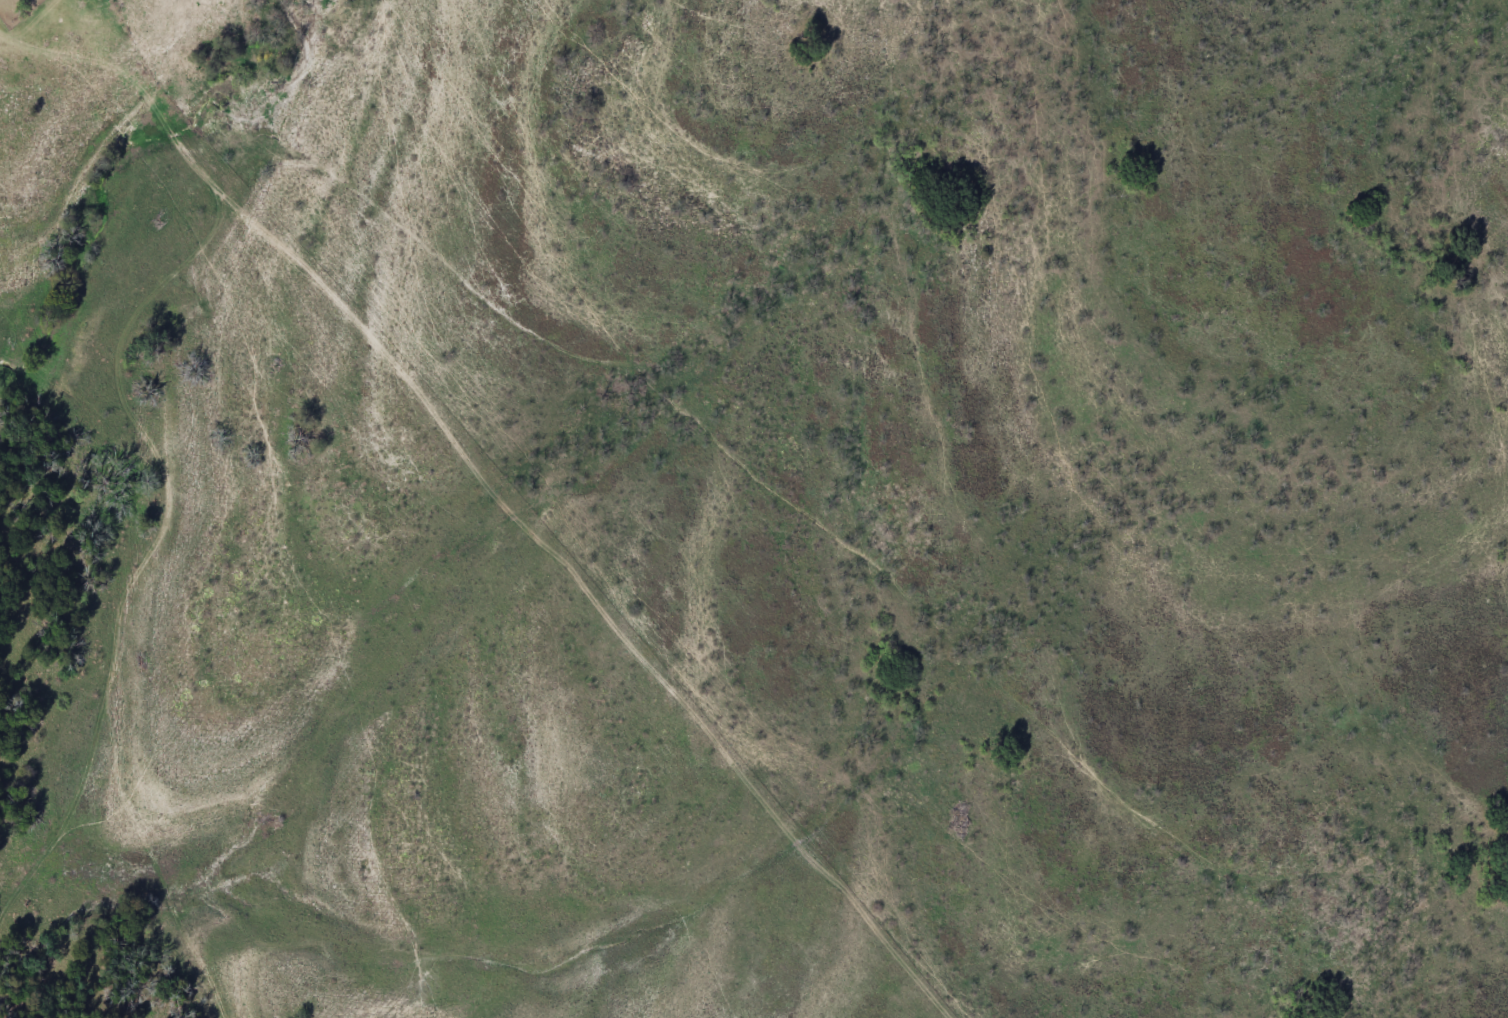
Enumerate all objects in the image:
road: (365, 195)

